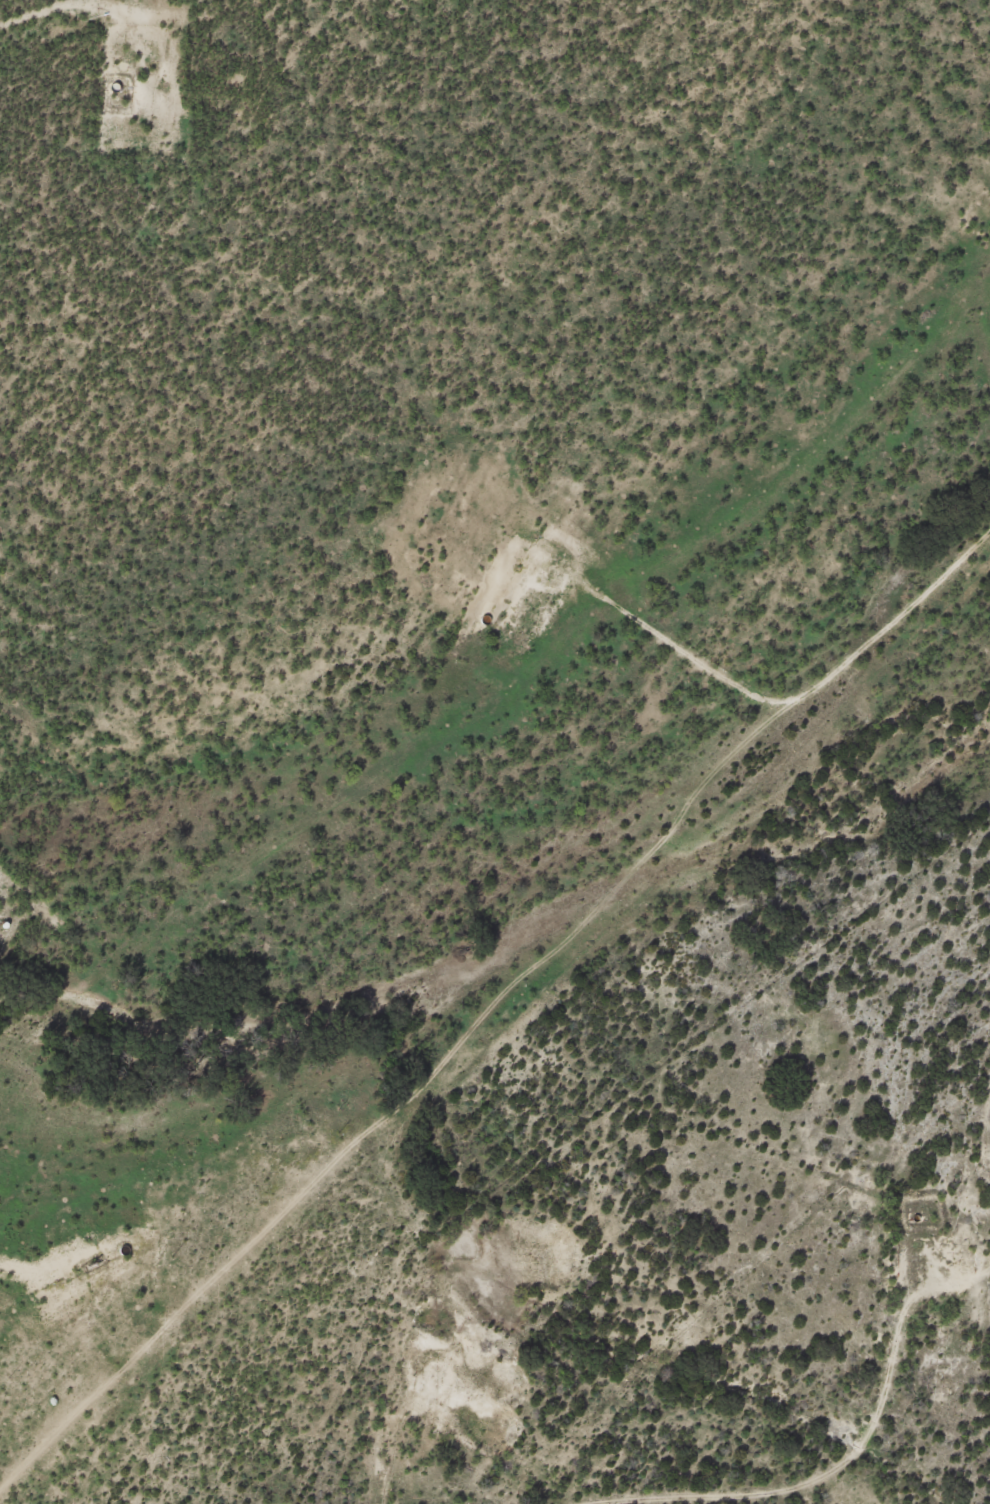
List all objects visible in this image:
road: (764, 1484)

